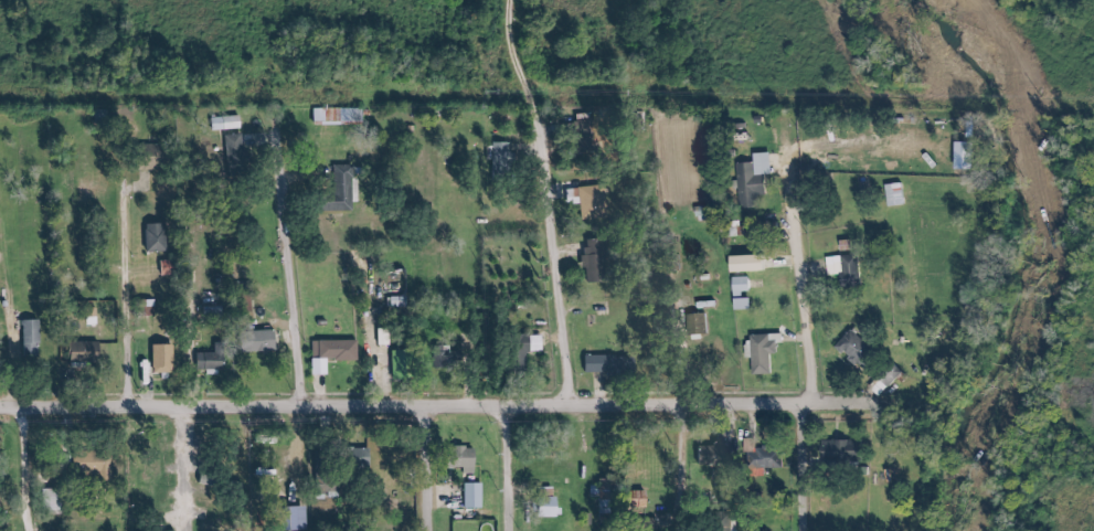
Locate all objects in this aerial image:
building: (334, 117)
building: (223, 124)
building: (232, 152)
building: (752, 181)
building: (339, 188)
building: (893, 195)
road: (554, 199)
building: (594, 201)
building: (752, 231)
building: (152, 238)
building: (845, 247)
building: (591, 261)
road: (295, 264)
building: (668, 264)
building: (164, 268)
building: (846, 270)
road: (806, 280)
building: (739, 289)
road: (130, 290)
building: (210, 315)
building: (694, 326)
road: (198, 332)
building: (28, 340)
building: (255, 343)
building: (532, 343)
building: (854, 351)
building: (331, 352)
building: (762, 353)
building: (81, 354)
building: (512, 357)
building: (161, 361)
building: (447, 363)
building: (205, 364)
building: (402, 365)
building: (606, 365)
road: (17, 370)
building: (886, 374)
road: (431, 403)
building: (835, 453)
building: (711, 456)
building: (764, 458)
building: (460, 459)
building: (354, 461)
road: (807, 465)
road: (182, 466)
road: (513, 466)
building: (87, 467)
road: (429, 467)
road: (684, 467)
building: (213, 482)
building: (470, 497)
building: (605, 505)
building: (543, 507)
building: (285, 519)

